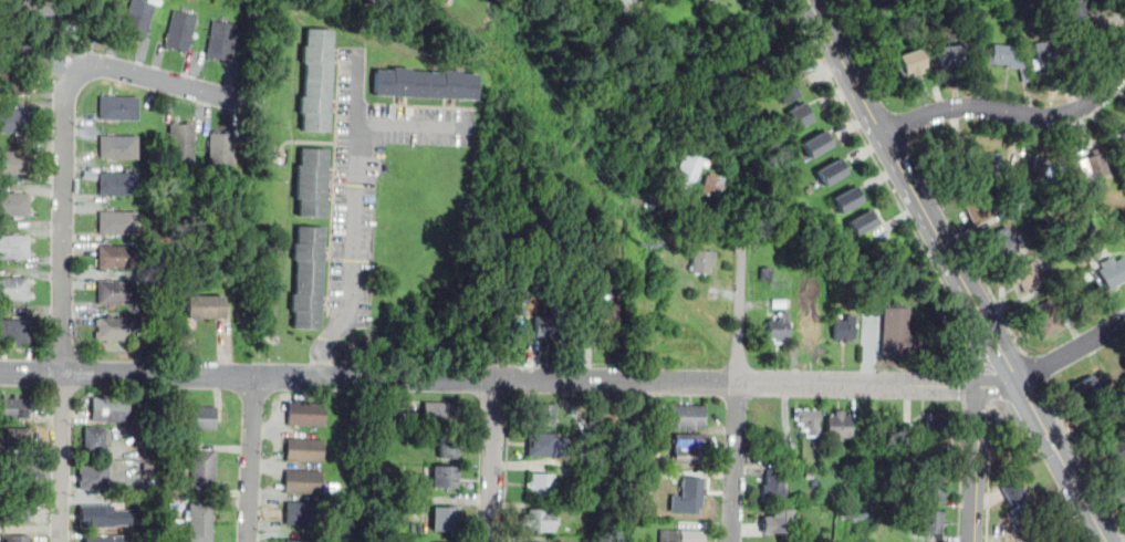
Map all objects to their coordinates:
building: (377, 3)
building: (352, 9)
building: (1074, 12)
building: (42, 14)
building: (140, 21)
building: (180, 33)
building: (223, 42)
building: (954, 56)
building: (1046, 56)
building: (1007, 58)
building: (913, 63)
road: (163, 80)
building: (319, 82)
building: (427, 85)
building: (15, 86)
building: (785, 91)
building: (121, 111)
road: (871, 112)
road: (1012, 112)
building: (800, 116)
building: (15, 124)
road: (412, 124)
building: (1119, 142)
building: (184, 145)
building: (815, 145)
building: (121, 152)
building: (223, 155)
building: (981, 160)
building: (15, 166)
building: (1051, 167)
building: (1094, 167)
building: (688, 170)
building: (831, 171)
parking lot: (373, 177)
road: (885, 177)
building: (313, 184)
building: (712, 185)
building: (121, 187)
building: (845, 199)
building: (1015, 207)
building: (15, 208)
building: (977, 209)
road: (689, 217)
road: (355, 218)
building: (861, 222)
building: (121, 226)
building: (1084, 226)
building: (1001, 244)
building: (1064, 244)
power tower: (643, 248)
building: (15, 250)
building: (119, 260)
road: (952, 260)
building: (702, 263)
building: (1114, 272)
building: (769, 275)
building: (1085, 277)
building: (309, 279)
building: (1027, 279)
building: (852, 281)
building: (14, 292)
building: (119, 295)
road: (60, 302)
building: (784, 305)
road: (740, 310)
building: (208, 311)
building: (640, 315)
road: (1004, 317)
building: (1046, 319)
building: (607, 323)
building: (554, 326)
building: (812, 326)
building: (780, 330)
building: (844, 330)
building: (118, 333)
building: (14, 334)
building: (898, 334)
road: (975, 342)
road: (1030, 363)
road: (1054, 363)
road: (490, 377)
road: (963, 386)
building: (1087, 388)
road: (496, 397)
building: (17, 409)
building: (107, 413)
building: (306, 415)
building: (441, 415)
building: (543, 415)
building: (196, 418)
building: (686, 418)
road: (1040, 419)
building: (595, 421)
building: (808, 421)
building: (938, 425)
building: (840, 426)
building: (19, 437)
building: (92, 440)
building: (587, 440)
building: (448, 446)
building: (544, 446)
building: (815, 447)
building: (690, 449)
building: (305, 451)
building: (1116, 451)
building: (925, 457)
road: (251, 458)
road: (493, 460)
road: (733, 462)
road: (977, 465)
road: (507, 468)
road: (479, 470)
building: (201, 471)
building: (584, 473)
building: (650, 476)
road: (959, 476)
road: (1090, 476)
building: (1122, 478)
building: (15, 479)
building: (91, 479)
building: (442, 479)
building: (304, 483)
building: (542, 487)
building: (772, 487)
building: (935, 490)
road: (988, 493)
building: (692, 494)
building: (1019, 507)
building: (19, 511)
building: (304, 515)
power tower: (847, 517)
building: (97, 518)
building: (442, 521)
building: (540, 521)
building: (199, 523)
building: (930, 524)
building: (775, 527)
building: (683, 536)
building: (17, 539)
building: (101, 540)
building: (291, 541)
building: (1044, 541)
building: (1049, 541)

